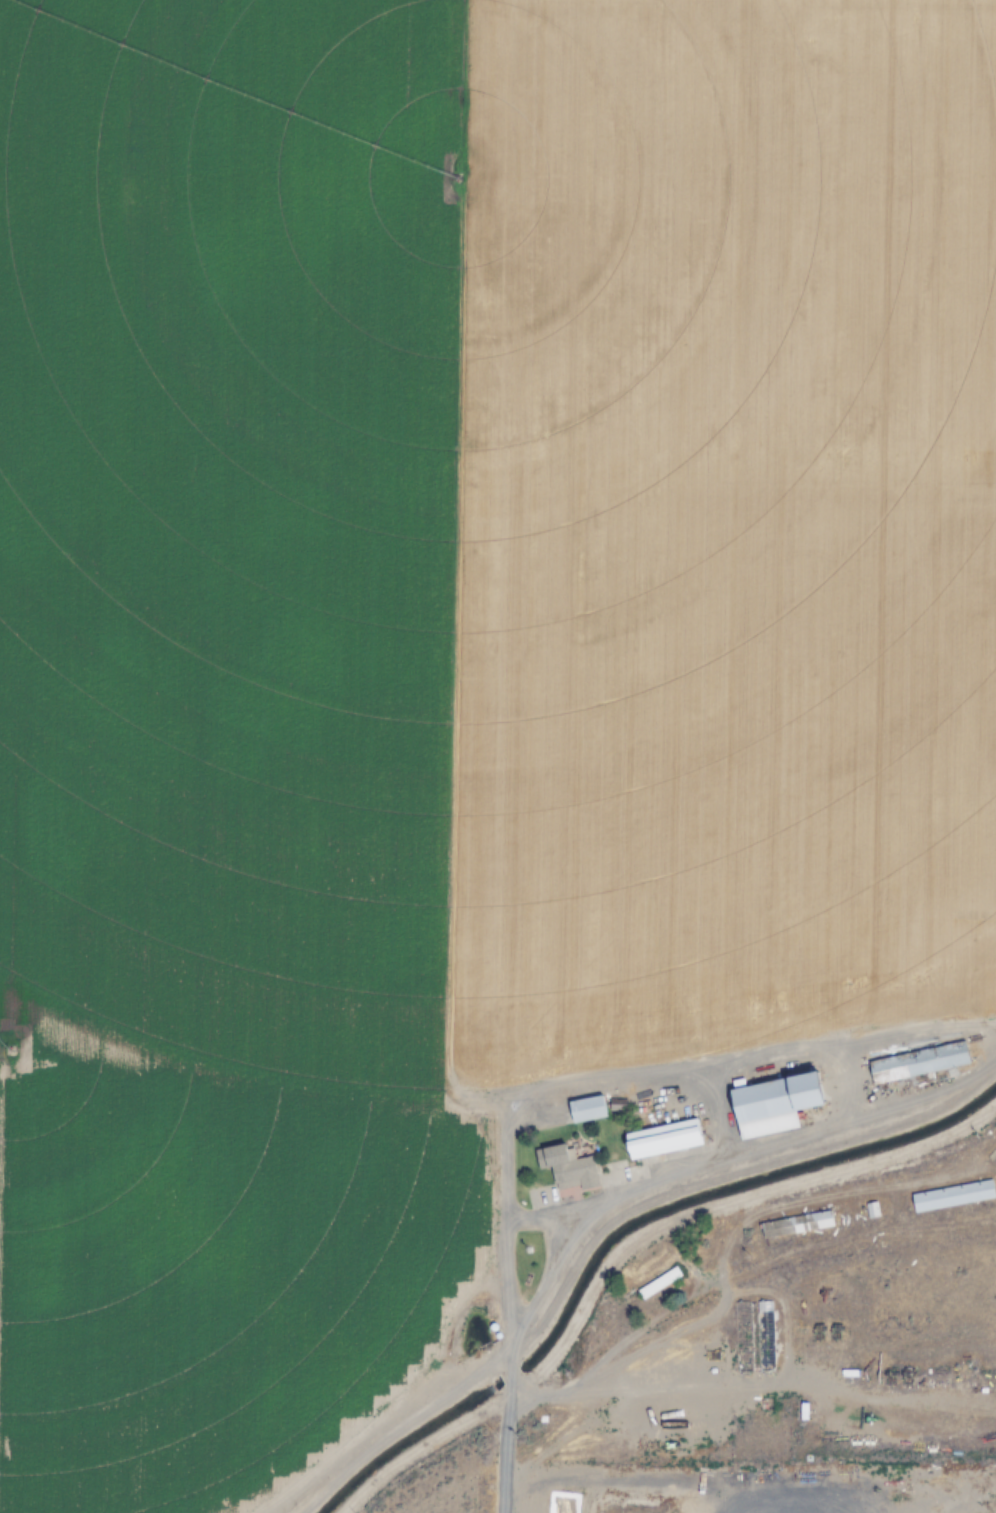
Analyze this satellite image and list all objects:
road: (465, 767)
building: (919, 1063)
building: (775, 1105)
building: (588, 1110)
building: (664, 1140)
building: (567, 1169)
building: (953, 1196)
building: (797, 1225)
building: (659, 1283)
building: (765, 1336)
building: (744, 1337)
road: (378, 1435)
building: (562, 1503)

